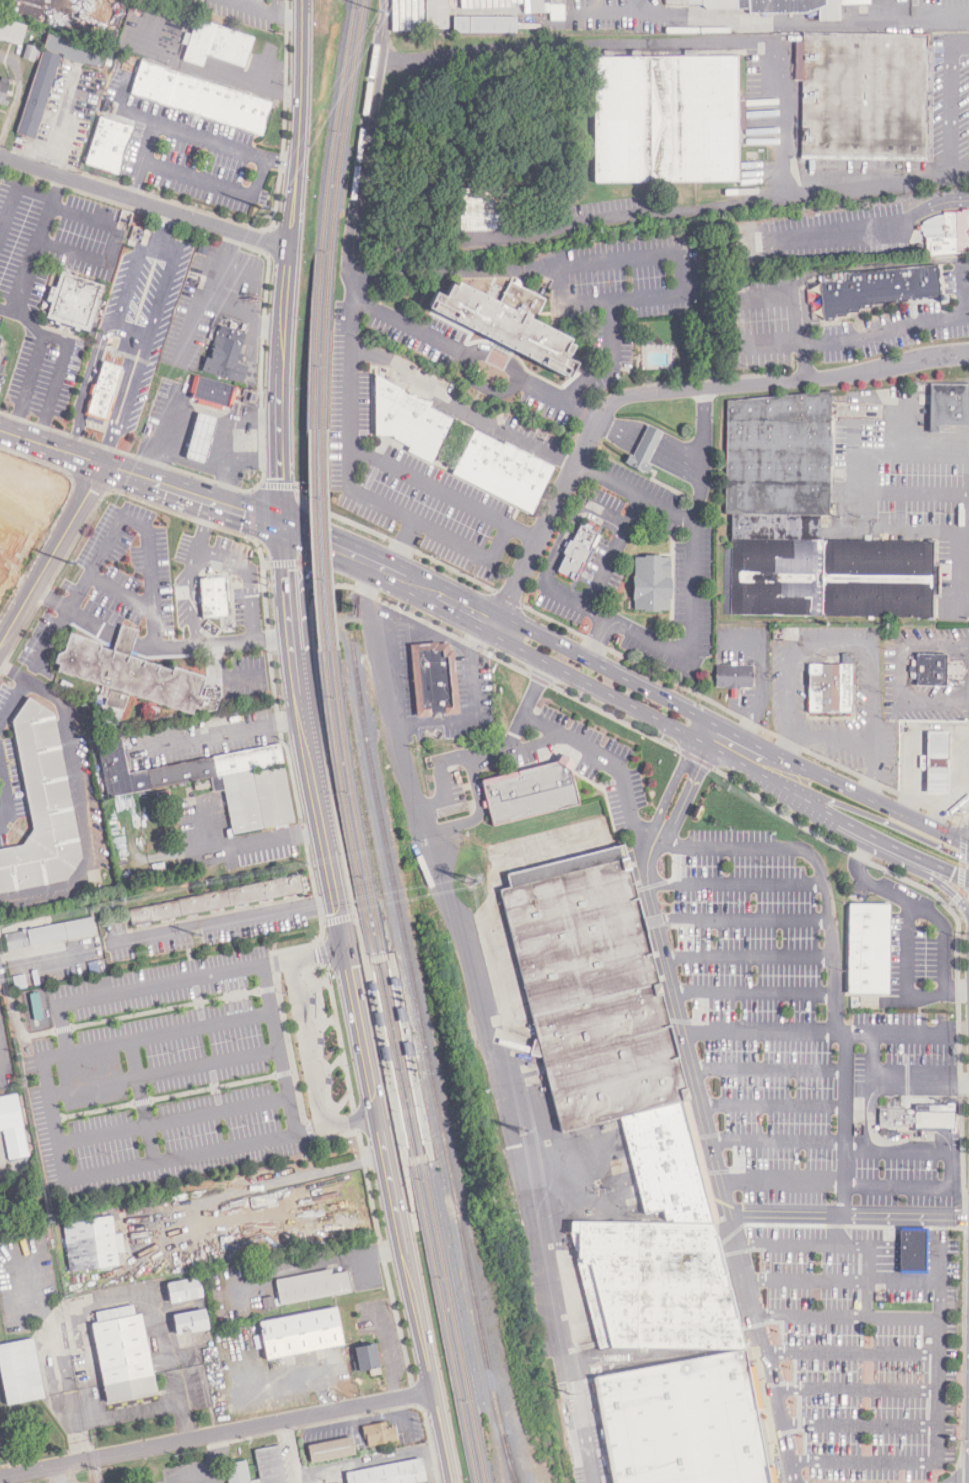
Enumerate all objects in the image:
building: (758, 6)
building: (547, 8)
road: (265, 11)
building: (436, 14)
building: (485, 24)
road: (801, 24)
building: (12, 31)
road: (749, 44)
building: (216, 45)
building: (51, 75)
road: (219, 77)
building: (3, 93)
building: (862, 96)
road: (16, 97)
building: (200, 100)
road: (954, 101)
building: (665, 119)
road: (190, 131)
building: (107, 146)
road: (141, 159)
road: (215, 183)
road: (16, 193)
road: (144, 205)
building: (485, 210)
railway: (326, 213)
railway: (334, 213)
road: (622, 218)
road: (878, 223)
building: (947, 233)
road: (114, 245)
road: (617, 259)
road: (288, 261)
building: (877, 289)
road: (200, 295)
road: (766, 296)
building: (72, 303)
road: (351, 306)
road: (8, 308)
road: (246, 311)
road: (796, 318)
road: (29, 320)
road: (131, 324)
building: (499, 324)
road: (418, 329)
road: (892, 329)
road: (148, 331)
road: (98, 336)
road: (773, 342)
building: (226, 353)
road: (613, 359)
road: (493, 366)
road: (28, 385)
building: (105, 390)
road: (666, 391)
building: (212, 393)
road: (551, 393)
road: (462, 403)
building: (947, 405)
building: (406, 418)
road: (620, 427)
building: (201, 436)
road: (650, 440)
building: (646, 448)
road: (680, 453)
road: (853, 465)
building: (501, 470)
road: (141, 476)
road: (428, 483)
road: (632, 490)
road: (920, 490)
road: (870, 493)
road: (626, 518)
traffic signals: (282, 523)
building: (805, 524)
road: (610, 526)
road: (624, 527)
road: (146, 533)
railway: (323, 539)
railway: (314, 540)
road: (335, 541)
road: (52, 553)
building: (577, 553)
road: (486, 558)
road: (292, 563)
road: (247, 568)
road: (604, 572)
road: (968, 572)
building: (650, 583)
road: (263, 584)
road: (314, 587)
road: (117, 591)
road: (443, 595)
building: (213, 596)
road: (599, 639)
road: (849, 641)
road: (935, 647)
road: (691, 655)
road: (607, 670)
building: (930, 670)
road: (12, 673)
building: (129, 673)
road: (216, 674)
road: (901, 674)
building: (733, 675)
building: (433, 678)
building: (829, 688)
road: (935, 700)
road: (13, 701)
road: (525, 708)
road: (642, 711)
road: (400, 725)
road: (226, 734)
road: (307, 735)
road: (829, 736)
road: (546, 740)
road: (747, 741)
building: (936, 762)
building: (248, 786)
road: (745, 789)
building: (529, 791)
road: (875, 802)
building: (41, 806)
road: (83, 811)
road: (881, 820)
road: (848, 826)
road: (259, 841)
traffic signals: (955, 854)
road: (961, 857)
road: (932, 864)
traffic signals: (954, 871)
road: (961, 874)
power tower: (471, 882)
road: (736, 883)
road: (941, 884)
road: (954, 899)
building: (214, 900)
road: (338, 919)
road: (221, 920)
road: (743, 920)
road: (906, 932)
building: (50, 933)
road: (944, 934)
power tower: (196, 935)
road: (360, 943)
traffic signals: (346, 946)
road: (44, 947)
building: (871, 948)
road: (316, 951)
road: (322, 951)
road: (834, 953)
road: (748, 955)
road: (379, 957)
road: (274, 963)
railway: (372, 963)
road: (241, 980)
road: (228, 983)
road: (147, 985)
road: (269, 988)
road: (197, 989)
road: (753, 990)
parking lot: (0, 991)
road: (246, 1006)
road: (166, 1009)
road: (232, 1009)
road: (201, 1015)
road: (19, 1025)
road: (63, 1029)
road: (361, 1030)
road: (760, 1031)
road: (914, 1035)
road: (339, 1038)
road: (304, 1041)
road: (280, 1046)
road: (290, 1048)
road: (2, 1050)
railway: (428, 1060)
parking lot: (189, 1067)
railway: (404, 1067)
road: (769, 1067)
railway: (396, 1068)
road: (285, 1072)
road: (164, 1073)
road: (214, 1075)
road: (880, 1080)
road: (213, 1087)
road: (219, 1099)
road: (701, 1099)
road: (143, 1100)
building: (619, 1101)
road: (142, 1102)
road: (502, 1102)
road: (773, 1104)
road: (93, 1111)
building: (915, 1118)
road: (173, 1120)
road: (349, 1120)
road: (356, 1122)
building: (12, 1127)
road: (54, 1130)
road: (309, 1132)
power tower: (522, 1132)
road: (778, 1138)
railway: (431, 1143)
road: (910, 1150)
road: (424, 1157)
road: (278, 1181)
road: (783, 1181)
road: (907, 1184)
road: (409, 1192)
building: (302, 1209)
road: (849, 1214)
road: (939, 1230)
road: (378, 1236)
road: (801, 1241)
building: (92, 1243)
road: (885, 1244)
road: (916, 1245)
road: (934, 1245)
building: (916, 1250)
road: (885, 1251)
road: (916, 1251)
road: (934, 1252)
road: (885, 1260)
road: (916, 1260)
road: (934, 1260)
road: (885, 1267)
road: (916, 1268)
road: (933, 1269)
road: (805, 1277)
road: (938, 1281)
building: (312, 1286)
building: (181, 1290)
road: (414, 1298)
road: (104, 1301)
road: (809, 1316)
building: (187, 1322)
building: (299, 1333)
road: (850, 1353)
building: (121, 1356)
building: (364, 1357)
road: (936, 1370)
building: (19, 1372)
road: (853, 1387)
road: (414, 1394)
power tower: (572, 1395)
road: (179, 1403)
road: (128, 1415)
building: (683, 1421)
road: (858, 1424)
road: (76, 1425)
road: (216, 1433)
building: (379, 1433)
building: (329, 1450)
railway: (510, 1460)
building: (269, 1465)
building: (237, 1472)
building: (389, 1474)

